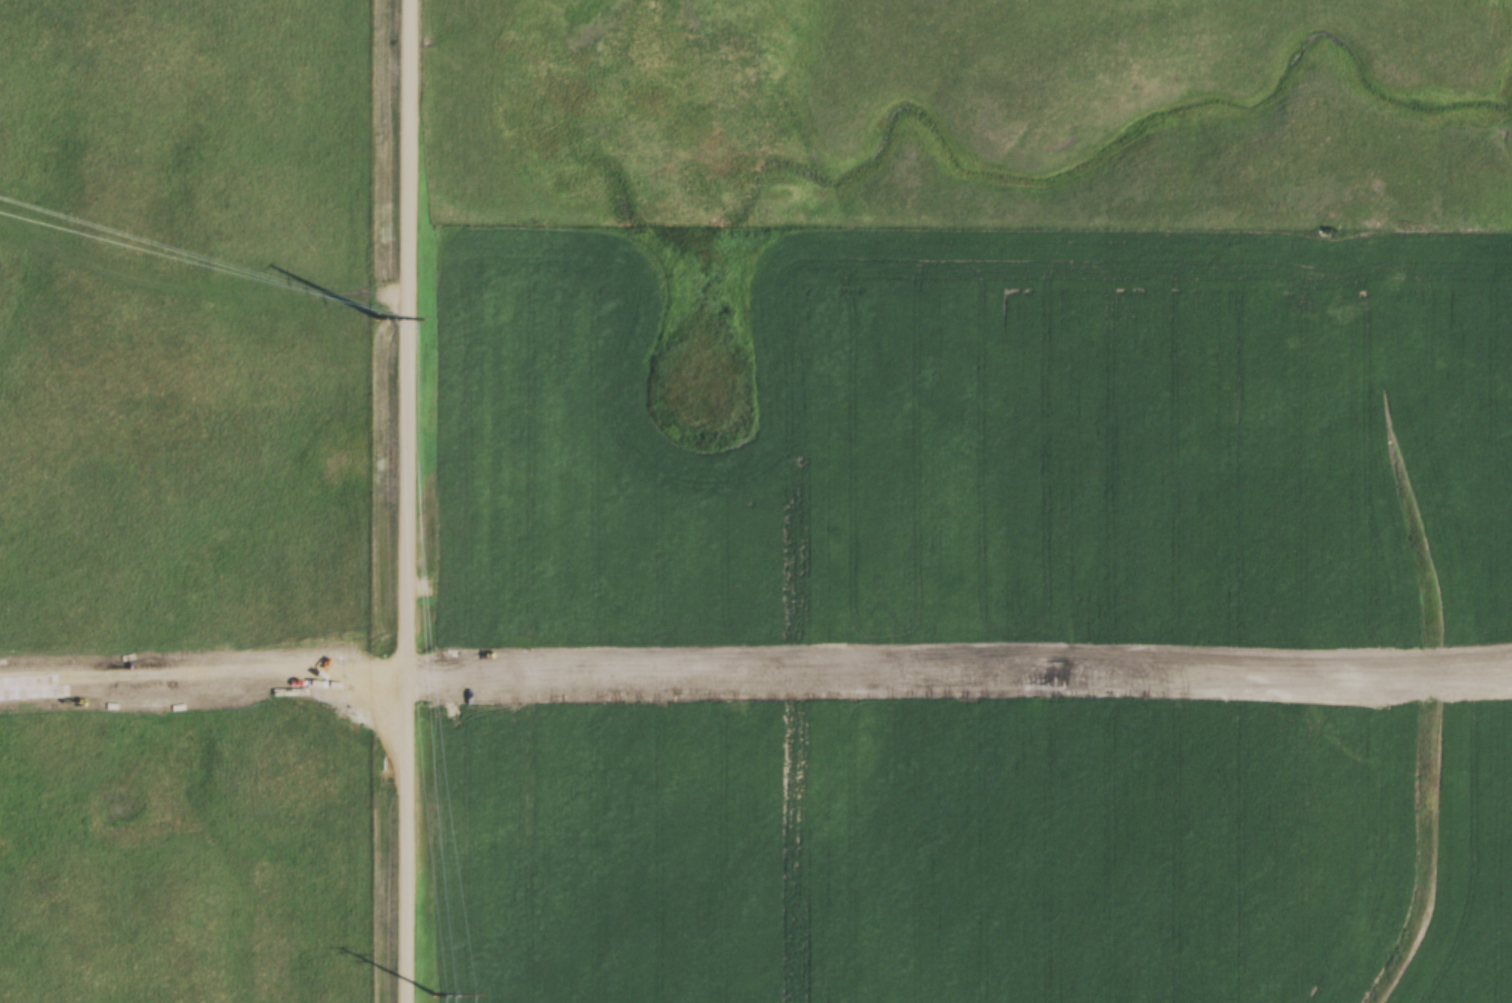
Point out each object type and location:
power tower: (379, 313)
road: (409, 501)
power tower: (437, 991)

